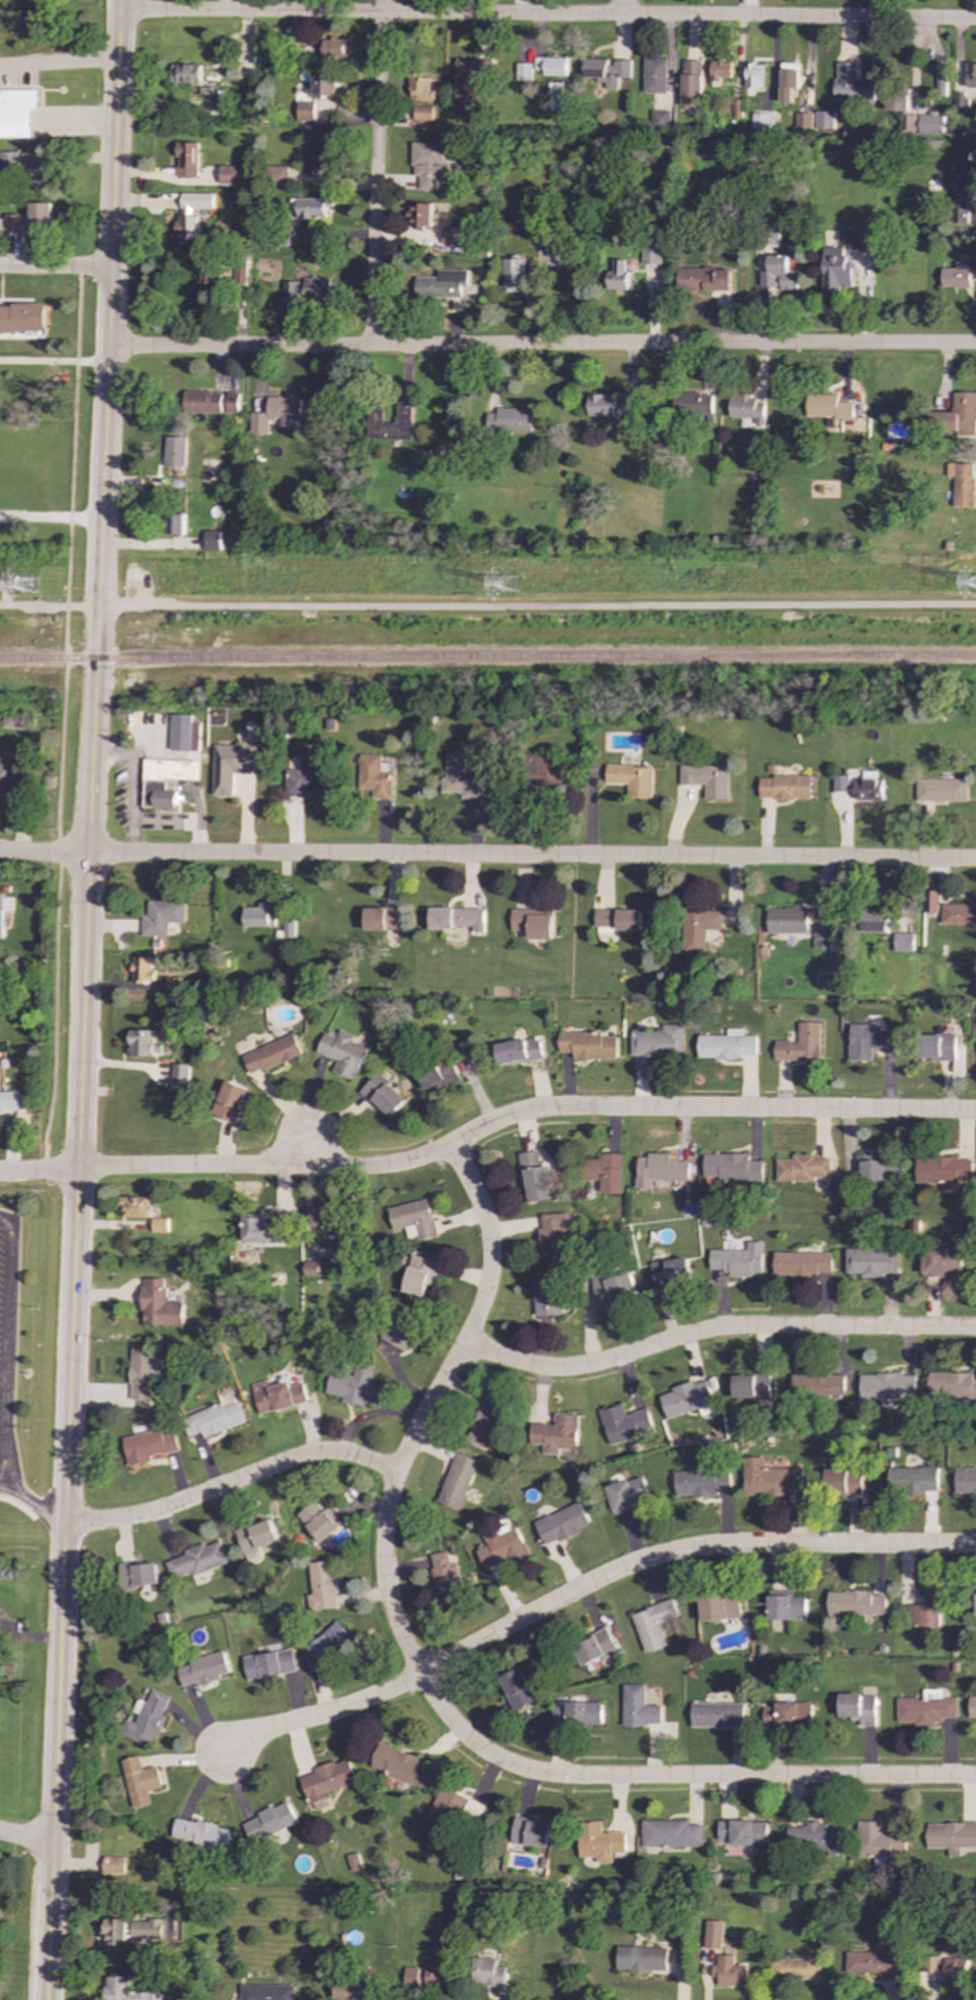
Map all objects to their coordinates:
road: (625, 8)
road: (548, 15)
building: (331, 48)
road: (59, 60)
building: (550, 65)
building: (522, 71)
building: (607, 71)
building: (720, 71)
building: (184, 74)
building: (654, 75)
building: (753, 75)
building: (971, 75)
building: (468, 78)
building: (788, 80)
building: (690, 83)
building: (851, 84)
building: (323, 85)
building: (939, 85)
building: (419, 88)
building: (900, 109)
building: (305, 111)
building: (422, 113)
building: (659, 118)
building: (802, 120)
building: (823, 120)
road: (78, 121)
building: (760, 121)
building: (930, 123)
building: (186, 159)
building: (320, 160)
building: (428, 164)
road: (376, 173)
building: (229, 174)
building: (278, 174)
building: (39, 178)
building: (964, 195)
building: (313, 208)
building: (420, 214)
building: (191, 215)
building: (40, 216)
building: (11, 222)
building: (452, 235)
building: (859, 240)
building: (650, 254)
road: (55, 265)
building: (834, 270)
building: (210, 273)
building: (776, 274)
building: (959, 274)
building: (513, 275)
building: (617, 275)
building: (702, 279)
building: (441, 284)
building: (308, 288)
building: (22, 318)
road: (541, 345)
road: (53, 360)
building: (203, 402)
building: (232, 402)
building: (690, 404)
building: (609, 406)
building: (745, 407)
building: (826, 407)
building: (277, 415)
building: (957, 416)
building: (510, 419)
building: (390, 424)
road: (105, 426)
building: (175, 451)
building: (962, 483)
road: (51, 516)
building: (174, 523)
building: (212, 540)
road: (68, 559)
power tower: (510, 586)
power tower: (32, 589)
road: (42, 606)
road: (97, 606)
road: (542, 607)
railway: (488, 658)
building: (18, 721)
building: (184, 733)
building: (232, 765)
building: (543, 773)
building: (374, 776)
building: (304, 777)
building: (462, 777)
building: (631, 779)
building: (707, 779)
building: (166, 781)
building: (840, 783)
building: (10, 784)
building: (785, 787)
building: (868, 789)
building: (941, 790)
road: (29, 852)
road: (517, 855)
building: (930, 901)
building: (959, 914)
building: (1, 915)
building: (260, 915)
building: (162, 917)
building: (382, 918)
building: (458, 918)
building: (618, 919)
building: (788, 920)
building: (534, 922)
building: (874, 922)
building: (289, 928)
building: (700, 930)
building: (822, 940)
building: (904, 942)
building: (141, 970)
building: (174, 984)
road: (55, 1012)
building: (869, 1040)
building: (659, 1042)
building: (801, 1044)
building: (588, 1045)
building: (728, 1045)
building: (936, 1047)
building: (516, 1051)
building: (342, 1053)
building: (271, 1054)
building: (437, 1072)
building: (179, 1076)
building: (382, 1095)
building: (8, 1100)
building: (229, 1101)
road: (635, 1108)
road: (305, 1152)
building: (732, 1167)
road: (152, 1168)
building: (802, 1168)
building: (660, 1169)
building: (942, 1170)
building: (604, 1171)
building: (535, 1177)
road: (77, 1186)
building: (133, 1205)
building: (320, 1215)
building: (413, 1217)
building: (160, 1225)
building: (262, 1231)
building: (553, 1237)
building: (737, 1260)
building: (871, 1261)
building: (940, 1261)
building: (801, 1263)
building: (311, 1268)
building: (671, 1272)
building: (420, 1274)
building: (615, 1289)
building: (548, 1296)
building: (159, 1305)
road: (6, 1308)
building: (400, 1326)
road: (715, 1330)
building: (141, 1374)
building: (817, 1384)
building: (951, 1385)
building: (353, 1386)
building: (751, 1386)
building: (886, 1386)
building: (276, 1395)
building: (687, 1398)
road: (429, 1405)
building: (214, 1419)
building: (487, 1419)
building: (624, 1423)
building: (557, 1434)
building: (149, 1445)
road: (2, 1454)
building: (769, 1478)
building: (911, 1479)
building: (965, 1480)
building: (457, 1481)
road: (233, 1482)
building: (701, 1482)
building: (843, 1482)
building: (627, 1494)
road: (33, 1503)
building: (318, 1521)
building: (561, 1524)
building: (257, 1535)
building: (503, 1547)
road: (684, 1550)
building: (198, 1560)
building: (140, 1575)
building: (447, 1579)
building: (323, 1586)
building: (856, 1603)
building: (719, 1607)
building: (786, 1608)
building: (927, 1611)
building: (654, 1624)
building: (331, 1643)
building: (595, 1647)
building: (270, 1664)
building: (203, 1669)
building: (518, 1689)
building: (639, 1707)
building: (858, 1707)
building: (926, 1708)
building: (971, 1708)
building: (578, 1714)
building: (717, 1714)
building: (785, 1715)
road: (322, 1716)
building: (146, 1718)
road: (55, 1760)
building: (399, 1765)
road: (677, 1776)
building: (327, 1780)
building: (138, 1781)
building: (455, 1808)
building: (269, 1822)
building: (530, 1832)
building: (741, 1832)
building: (671, 1834)
building: (200, 1836)
building: (951, 1836)
road: (25, 1837)
building: (812, 1837)
building: (877, 1840)
building: (599, 1842)
building: (354, 1861)
building: (113, 1865)
building: (151, 1929)
building: (114, 1933)
building: (712, 1934)
building: (641, 1959)
building: (874, 1963)
building: (795, 1968)
building: (937, 1970)
building: (728, 1971)
building: (487, 1972)
building: (427, 1977)
building: (121, 1990)
building: (354, 1990)
building: (266, 1992)

